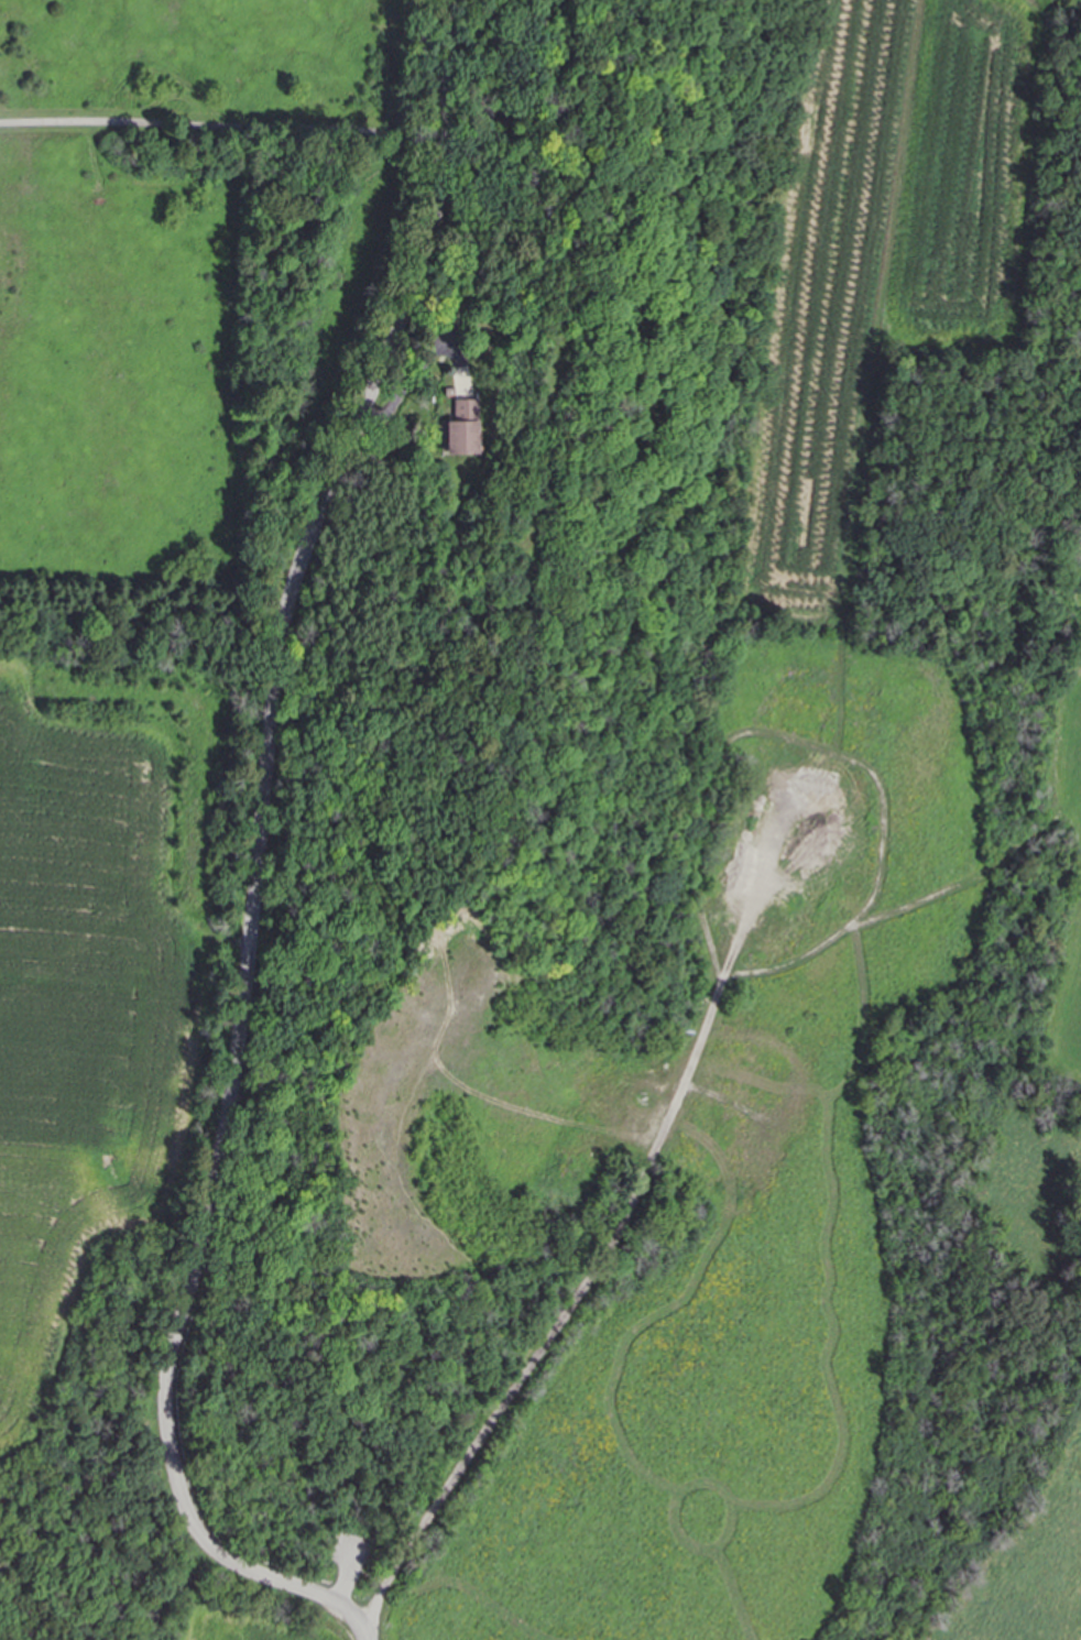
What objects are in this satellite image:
road: (225, 123)
building: (463, 417)
road: (255, 863)
road: (565, 1314)
quarry: (88, 1617)

